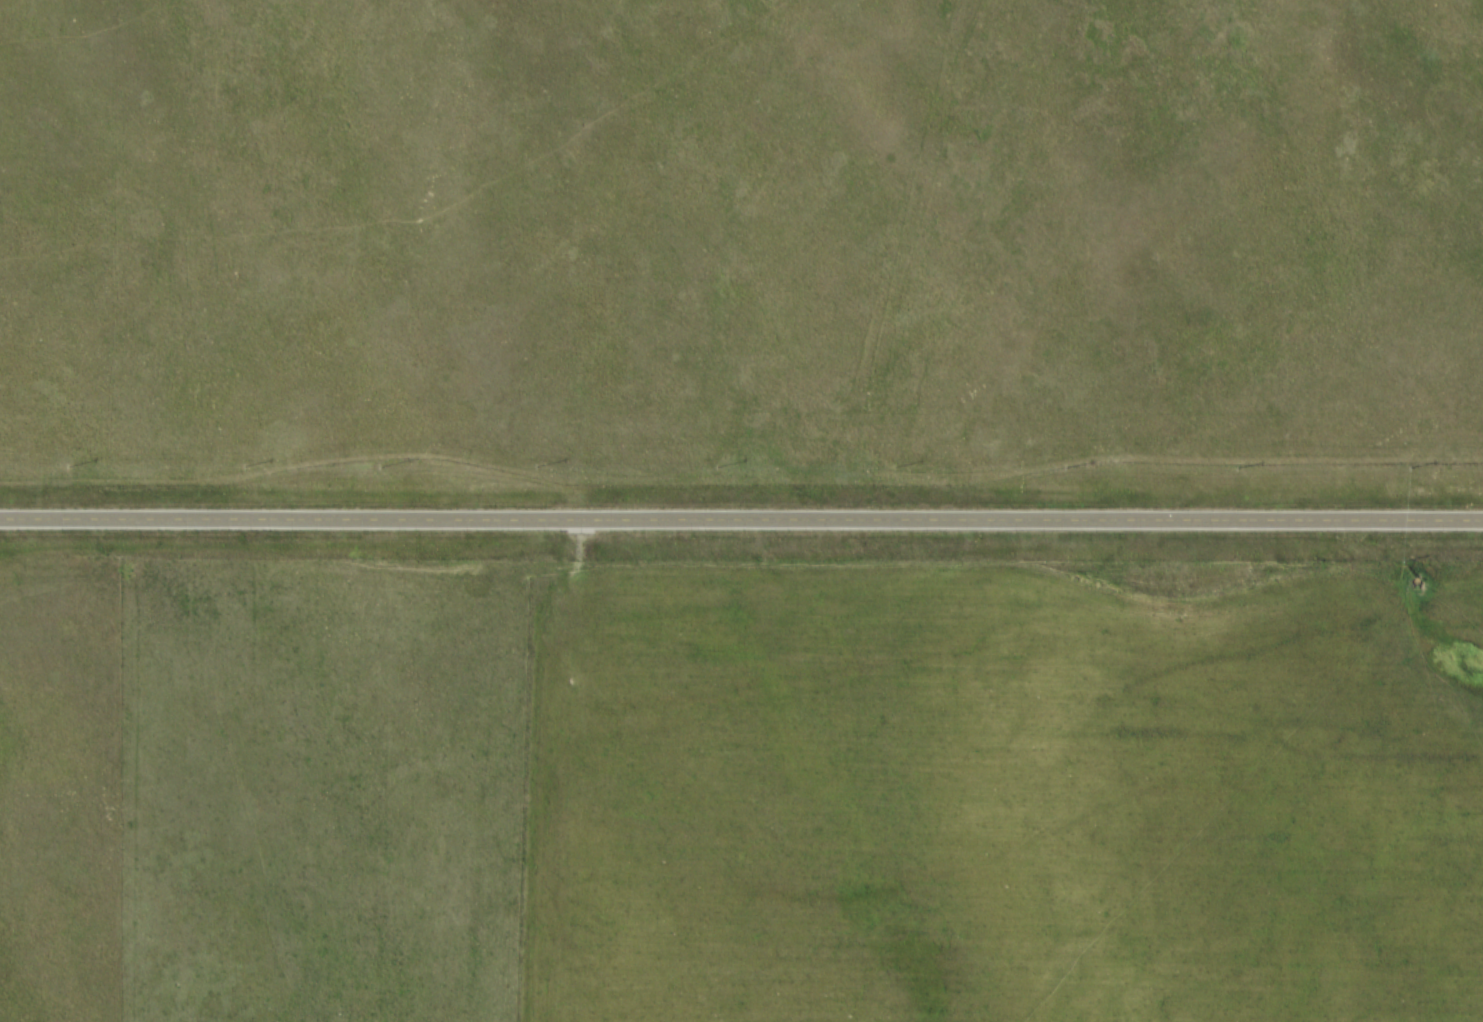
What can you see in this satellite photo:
road: (741, 517)

